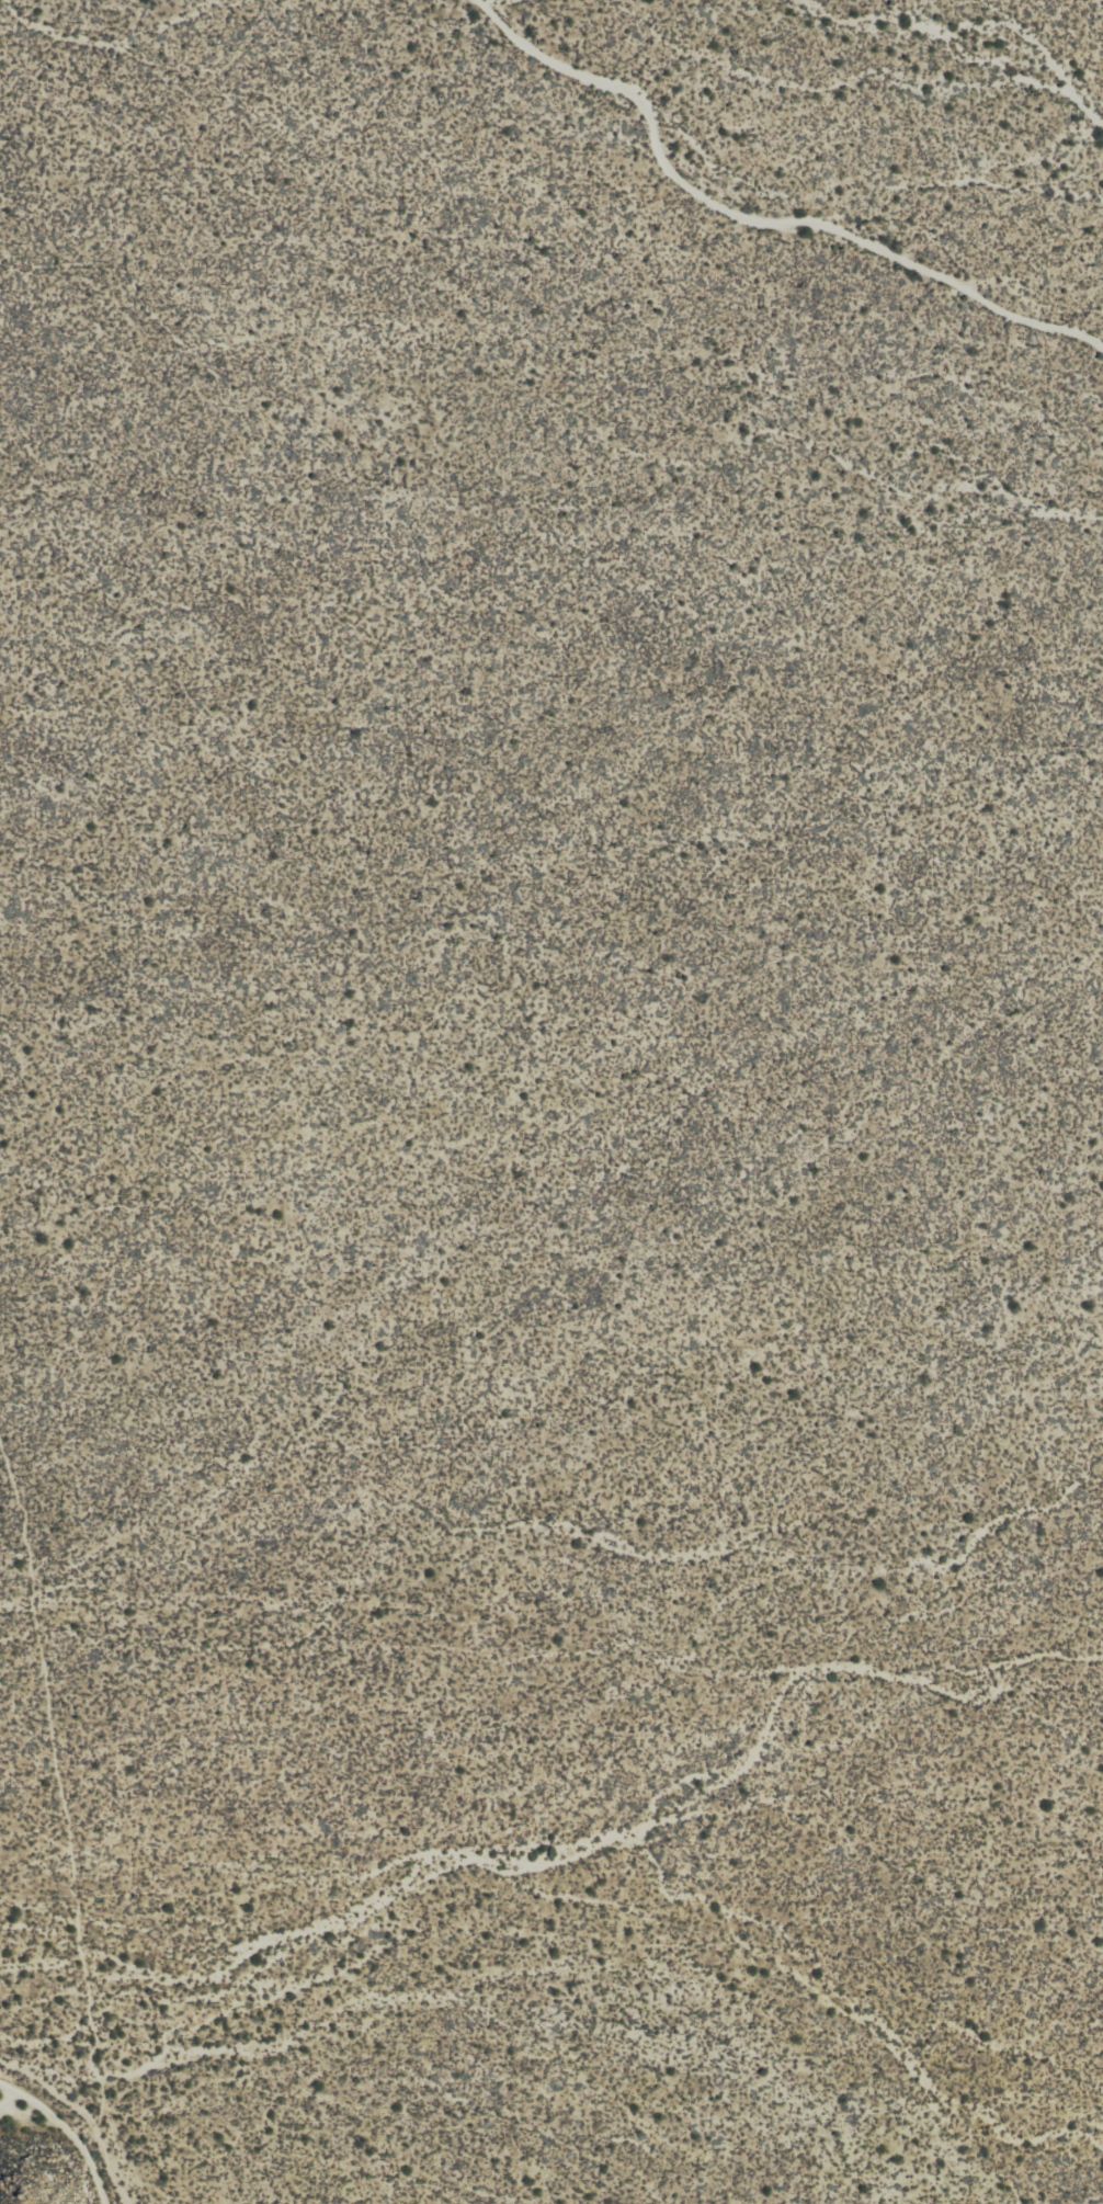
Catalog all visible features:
road: (755, 220)
road: (65, 1826)
road: (67, 2129)

